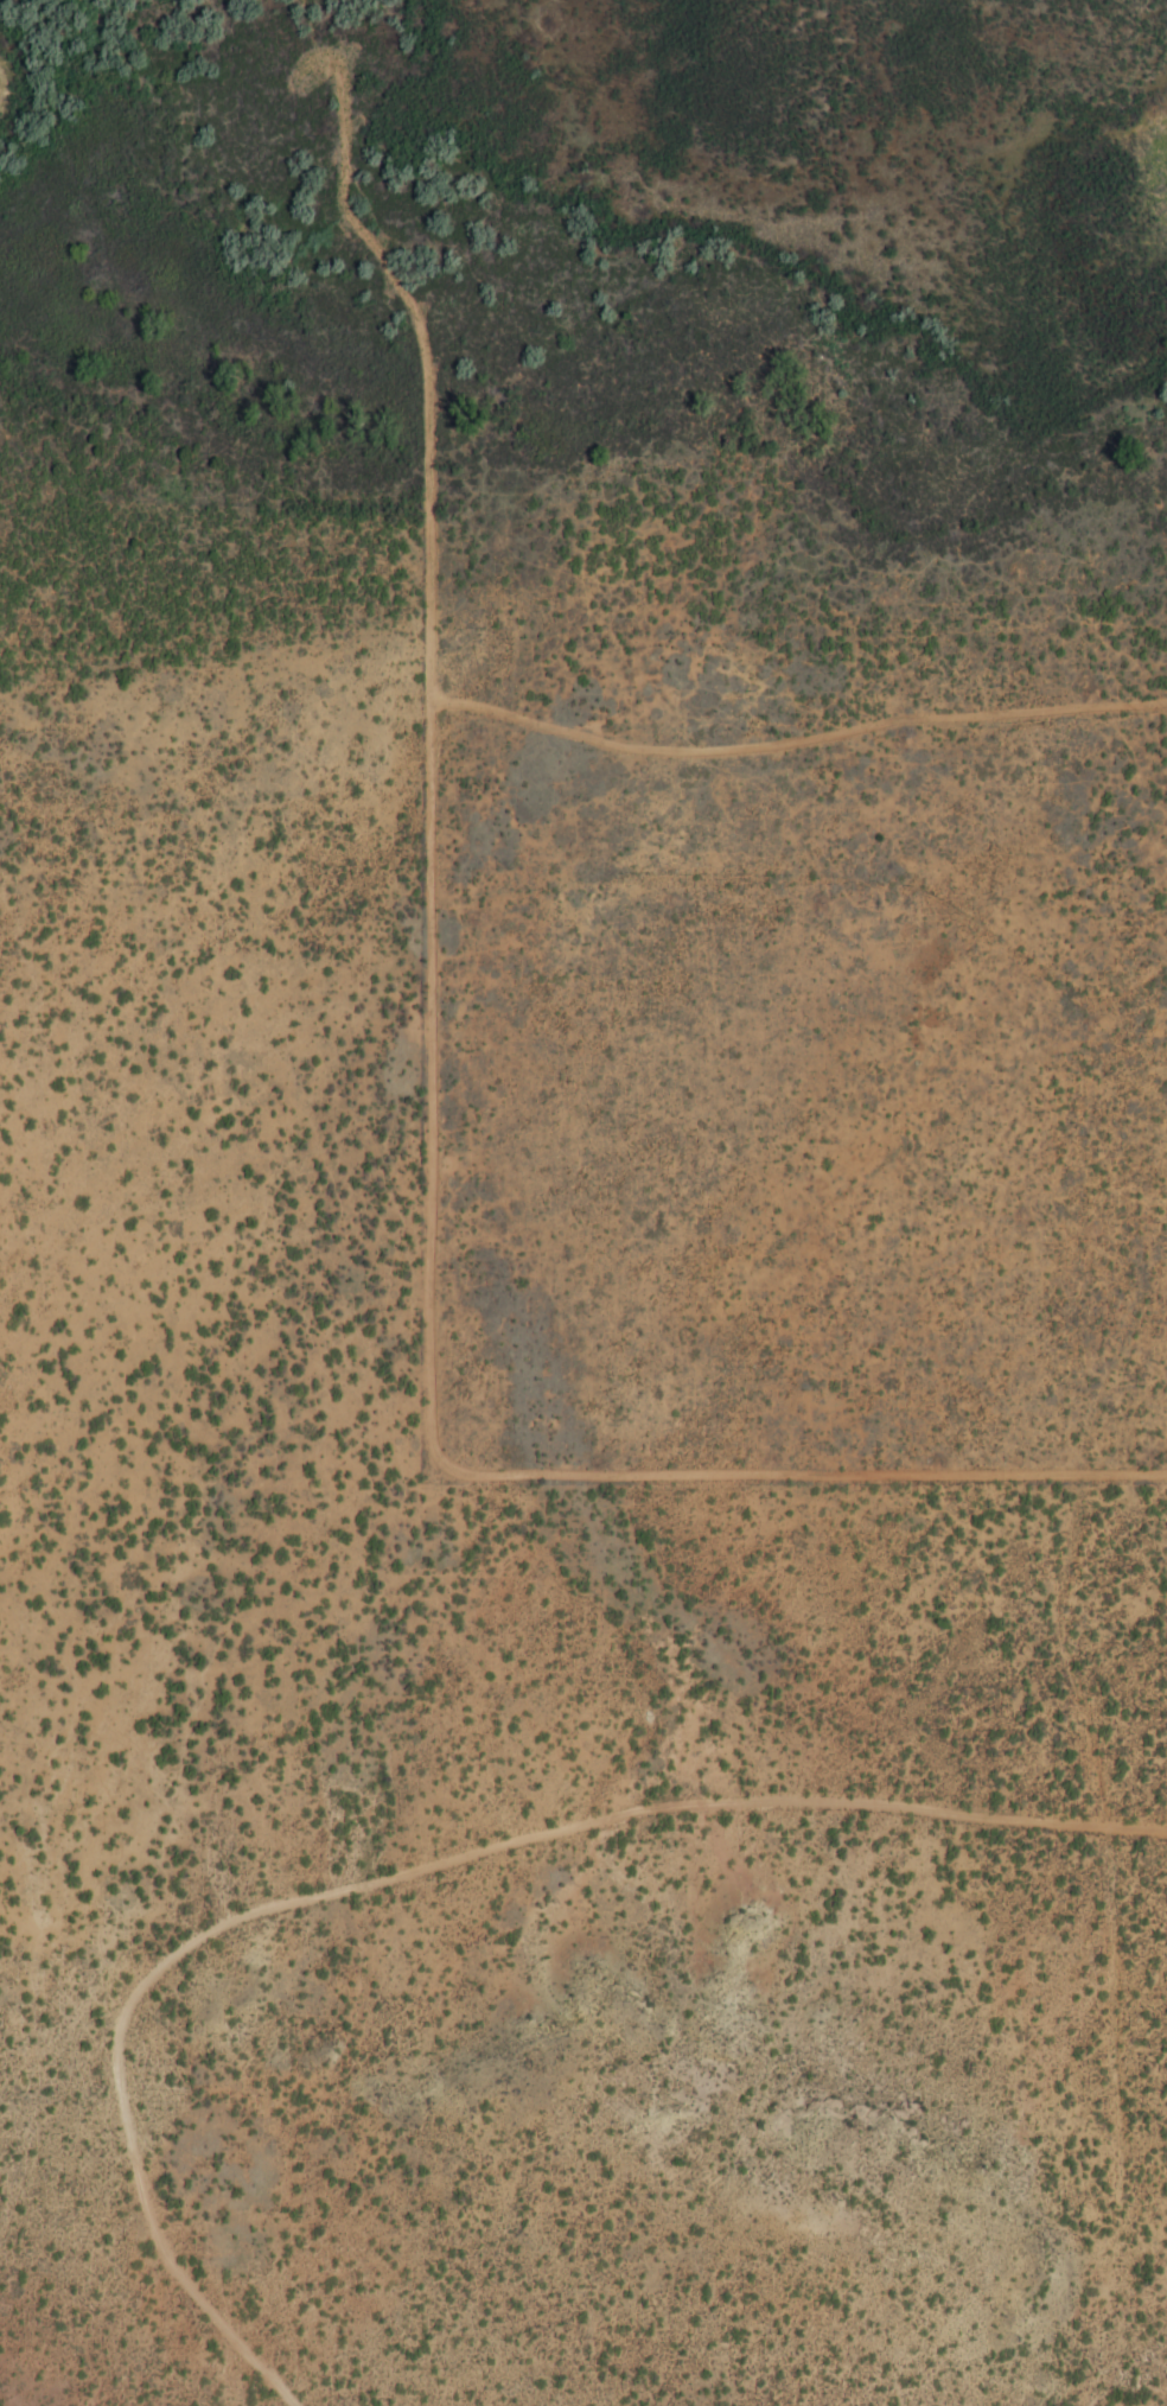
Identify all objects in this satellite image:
road: (1088, 1818)

